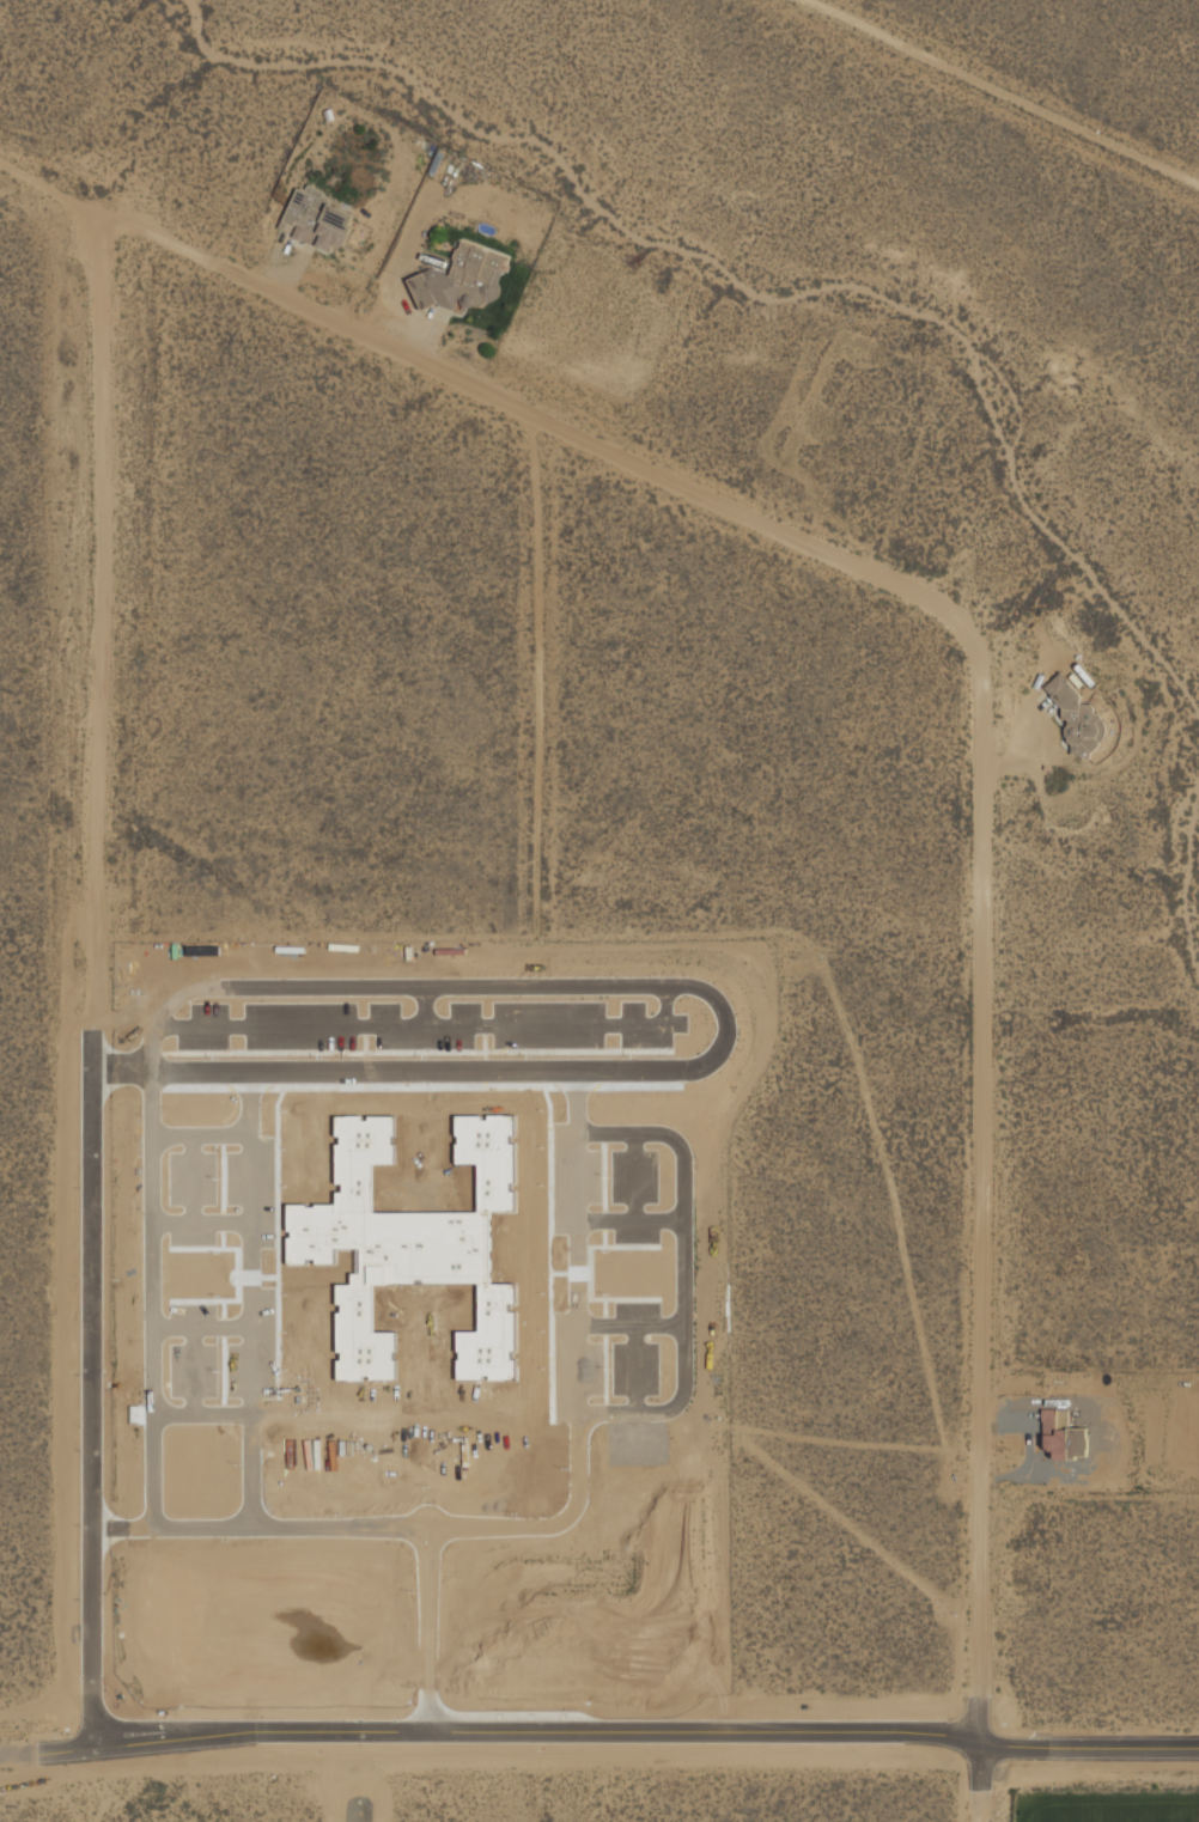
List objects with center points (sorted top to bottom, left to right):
road: (1006, 89)
road: (47, 182)
building: (315, 219)
building: (461, 280)
road: (92, 620)
building: (1076, 718)
road: (986, 730)
road: (422, 1010)
parking lot: (425, 1030)
road: (426, 1030)
road: (726, 1030)
road: (199, 1138)
road: (633, 1182)
road: (189, 1184)
parking lot: (602, 1193)
parking lot: (220, 1199)
road: (628, 1226)
road: (200, 1230)
building: (409, 1247)
road: (682, 1276)
road: (150, 1304)
road: (250, 1304)
road: (201, 1332)
road: (628, 1332)
parking lot: (223, 1354)
road: (576, 1361)
parking lot: (603, 1361)
road: (634, 1375)
road: (191, 1376)
road: (93, 1394)
road: (201, 1419)
building: (1061, 1436)
road: (413, 1517)
road: (250, 1532)
road: (426, 1644)
road: (487, 1735)
road: (1070, 1751)
road: (17, 1759)
park: (1102, 1798)

